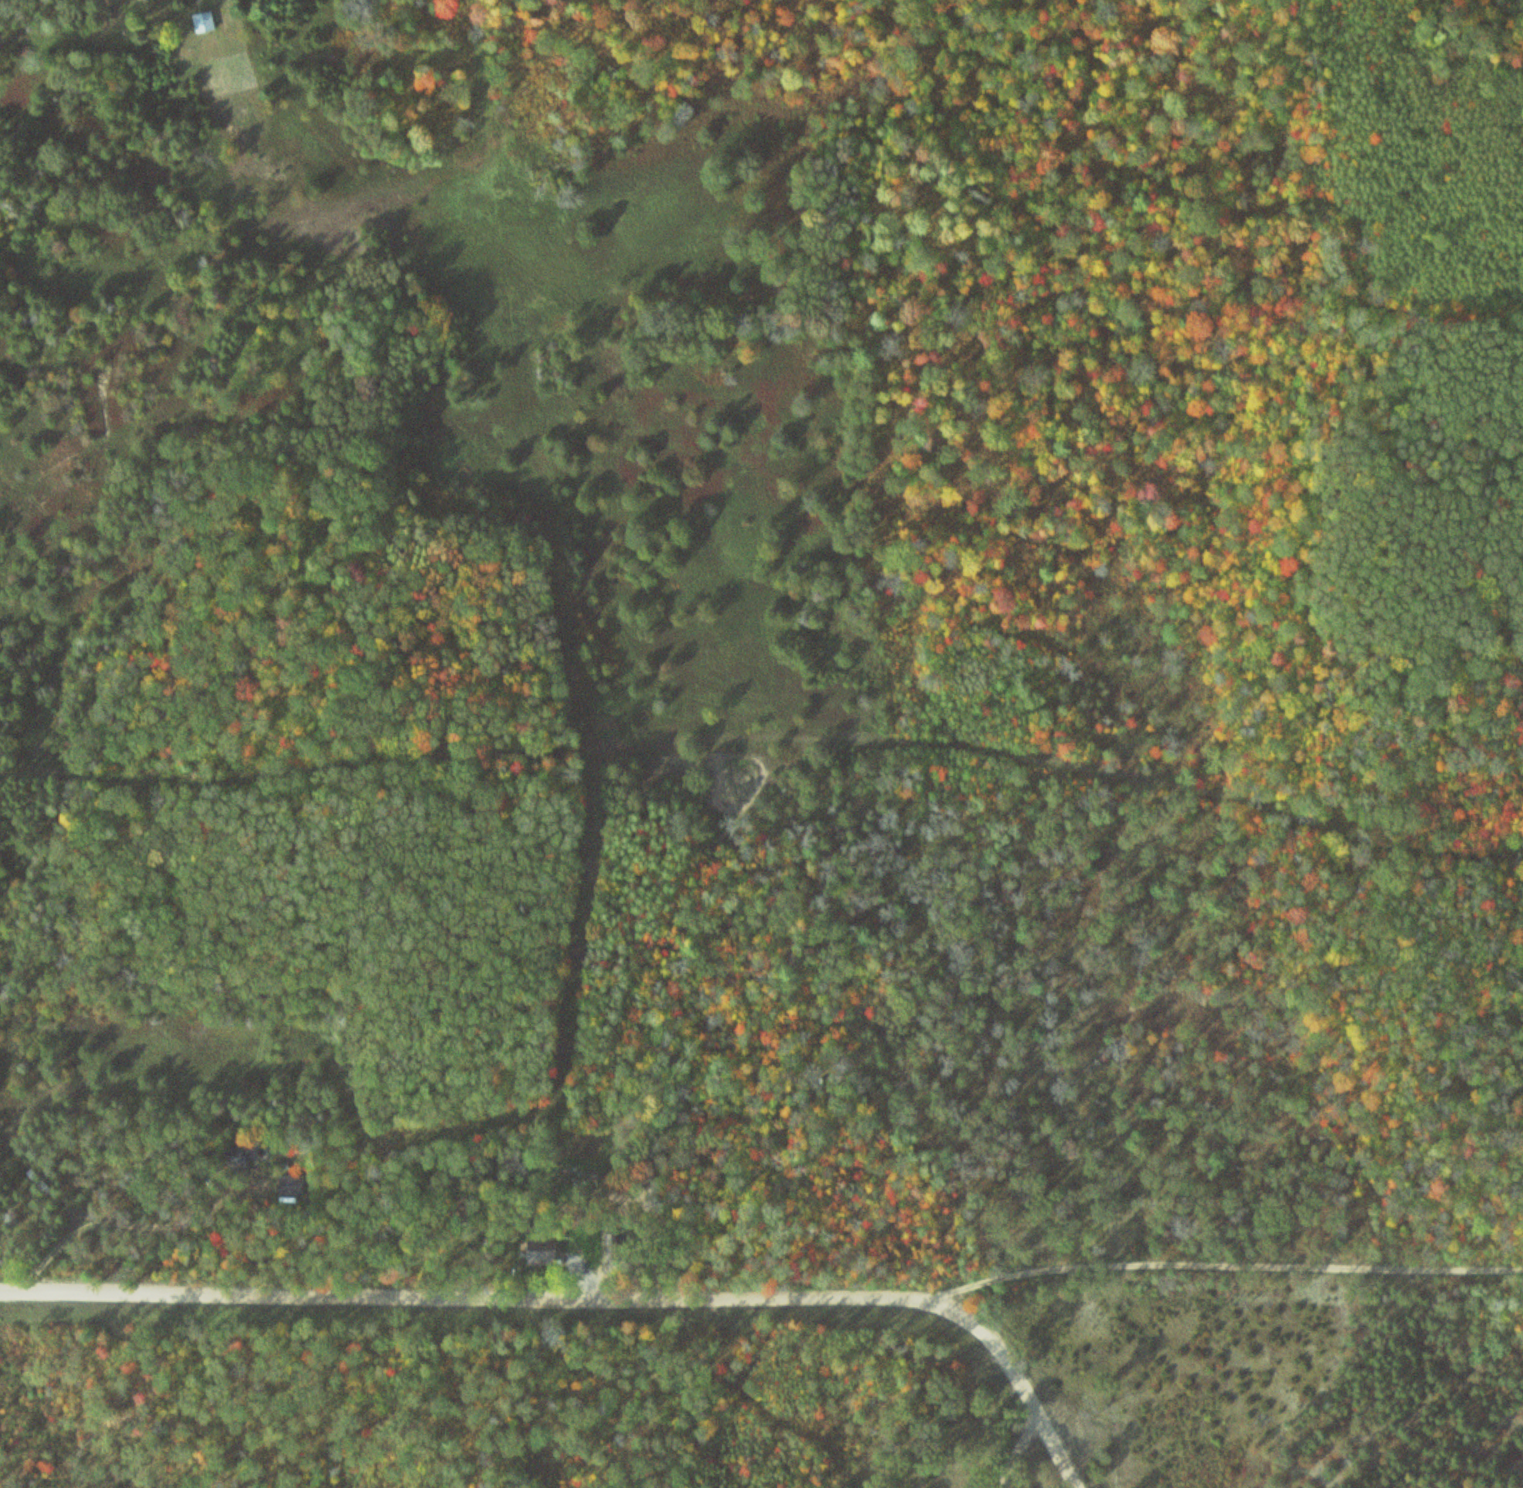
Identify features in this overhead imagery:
building: (227, 1156)
building: (286, 1185)
building: (534, 1250)
road: (764, 1296)
road: (1013, 1393)

